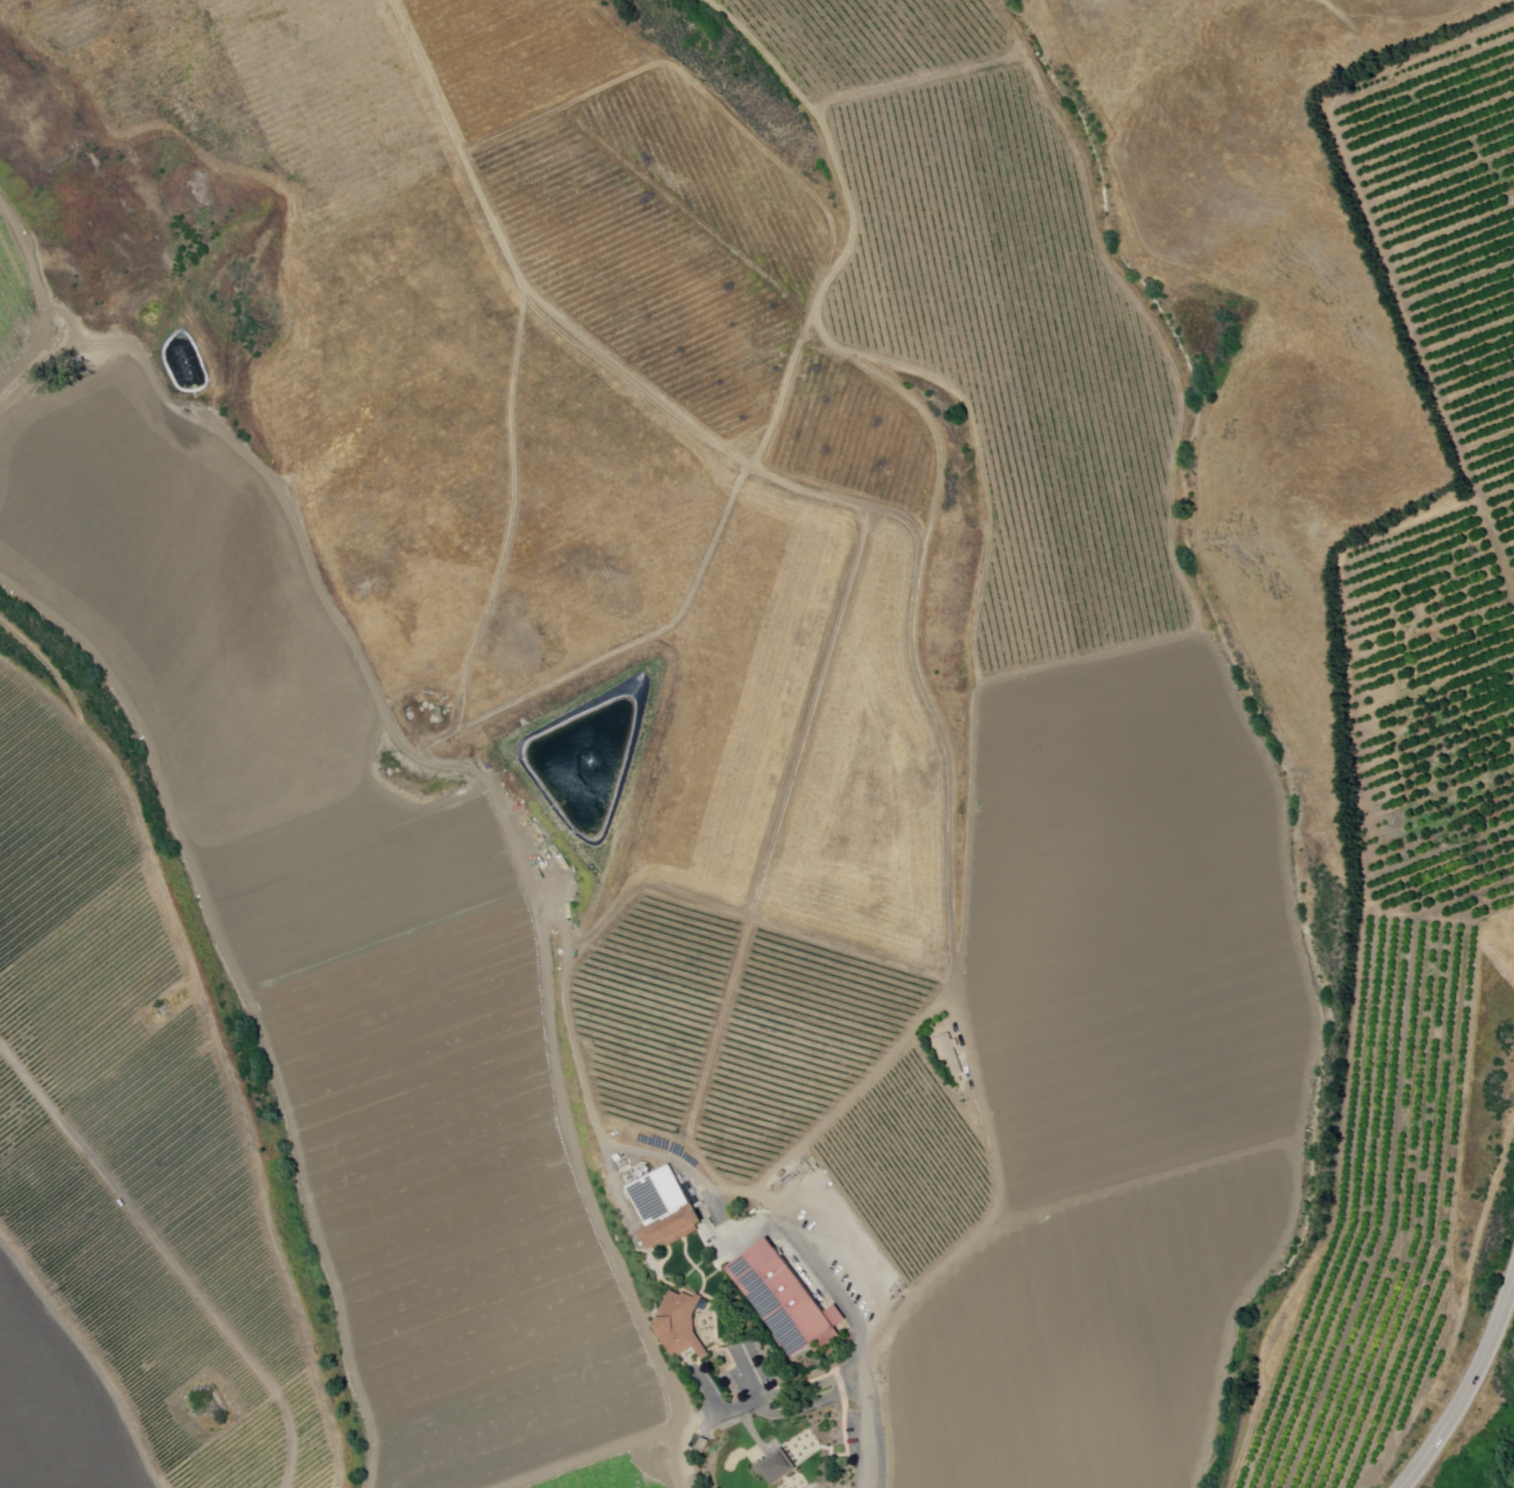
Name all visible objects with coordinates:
crop: (14, 300)
crop: (749, 742)
crop: (51, 824)
crop: (1133, 927)
crop: (348, 948)
building: (952, 1054)
building: (664, 1208)
road: (711, 1298)
building: (784, 1300)
building: (680, 1325)
crop: (1085, 1339)
road: (864, 1345)
parking lot: (758, 1363)
road: (749, 1374)
parking lot: (740, 1383)
road: (811, 1387)
road: (1467, 1387)
crop: (54, 1404)
road: (810, 1407)
road: (721, 1415)
parking lot: (854, 1434)
crop: (170, 1441)
building: (702, 1445)
parking lot: (879, 1445)
road: (834, 1456)
building: (776, 1467)
crop: (620, 1473)

